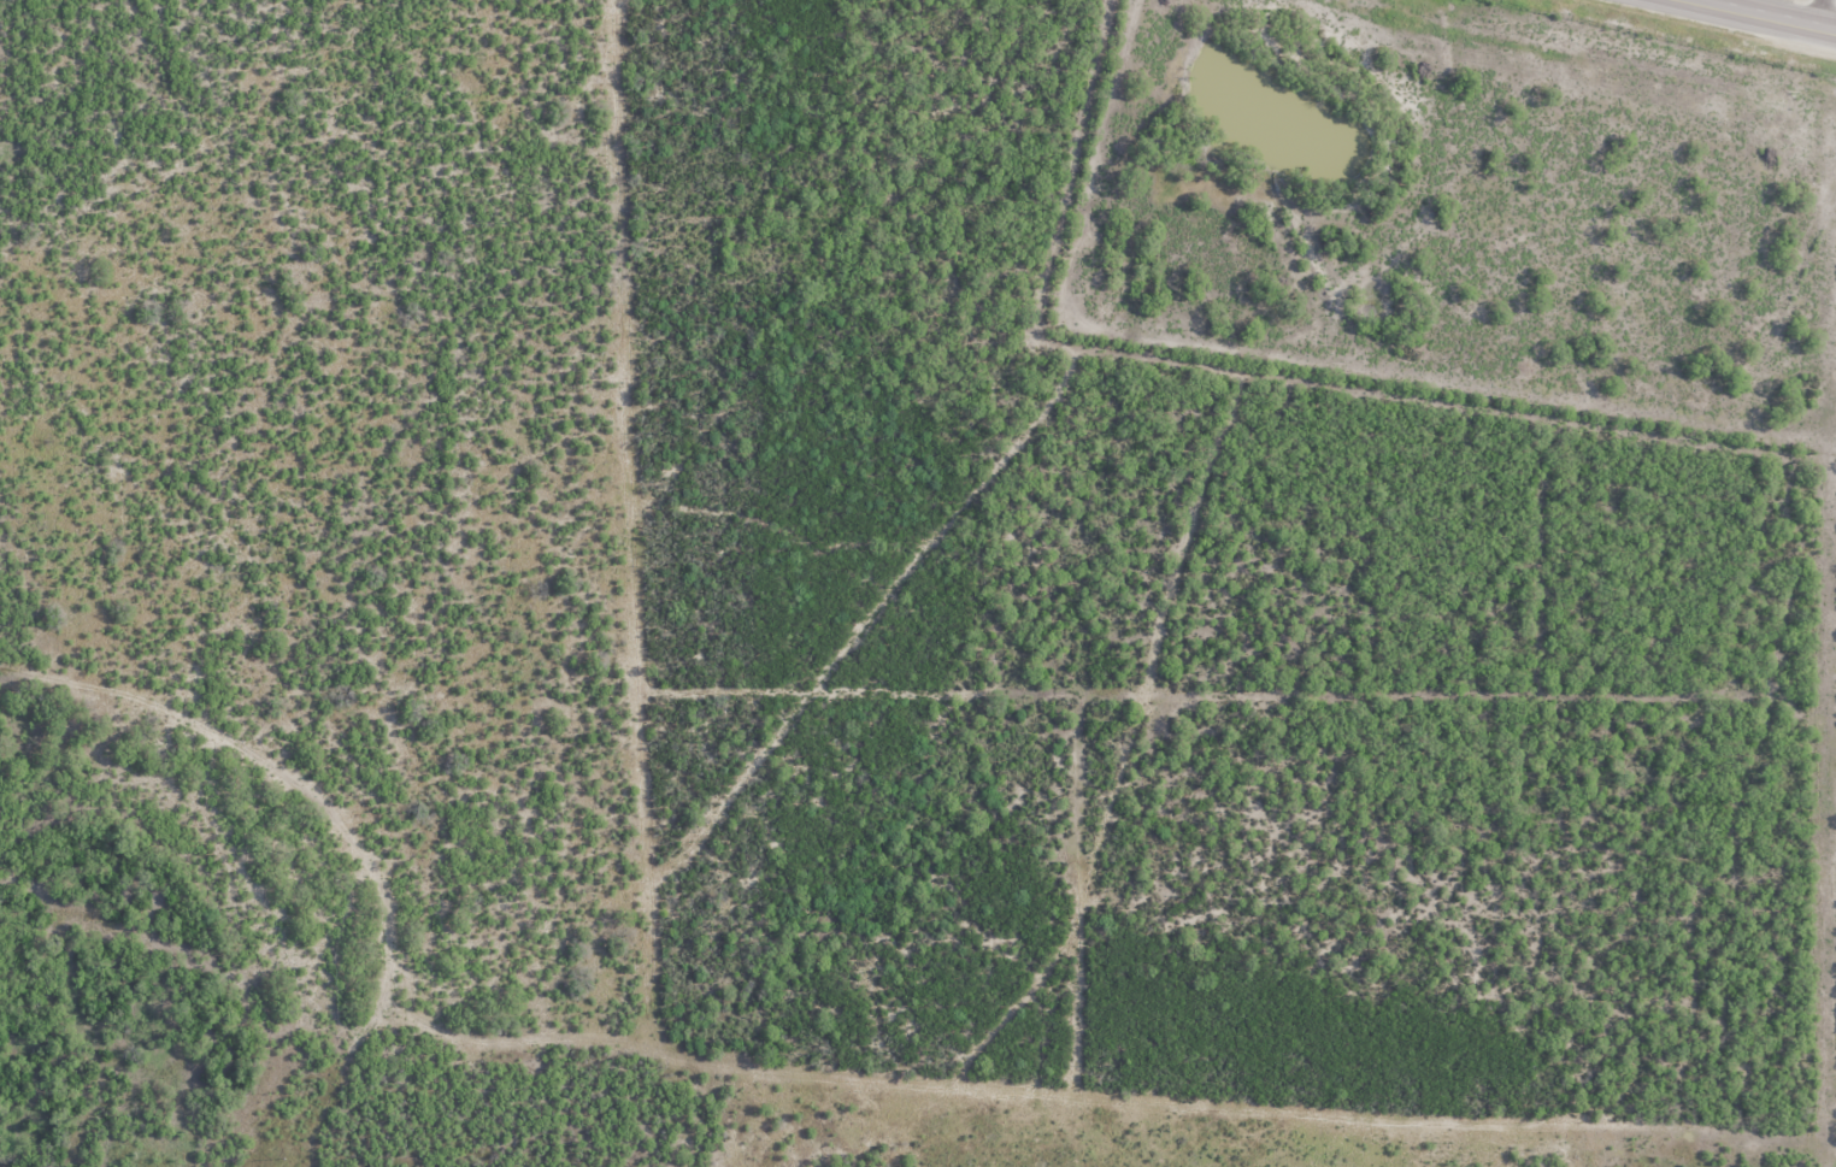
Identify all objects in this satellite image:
road: (1830, 17)
road: (1752, 18)

